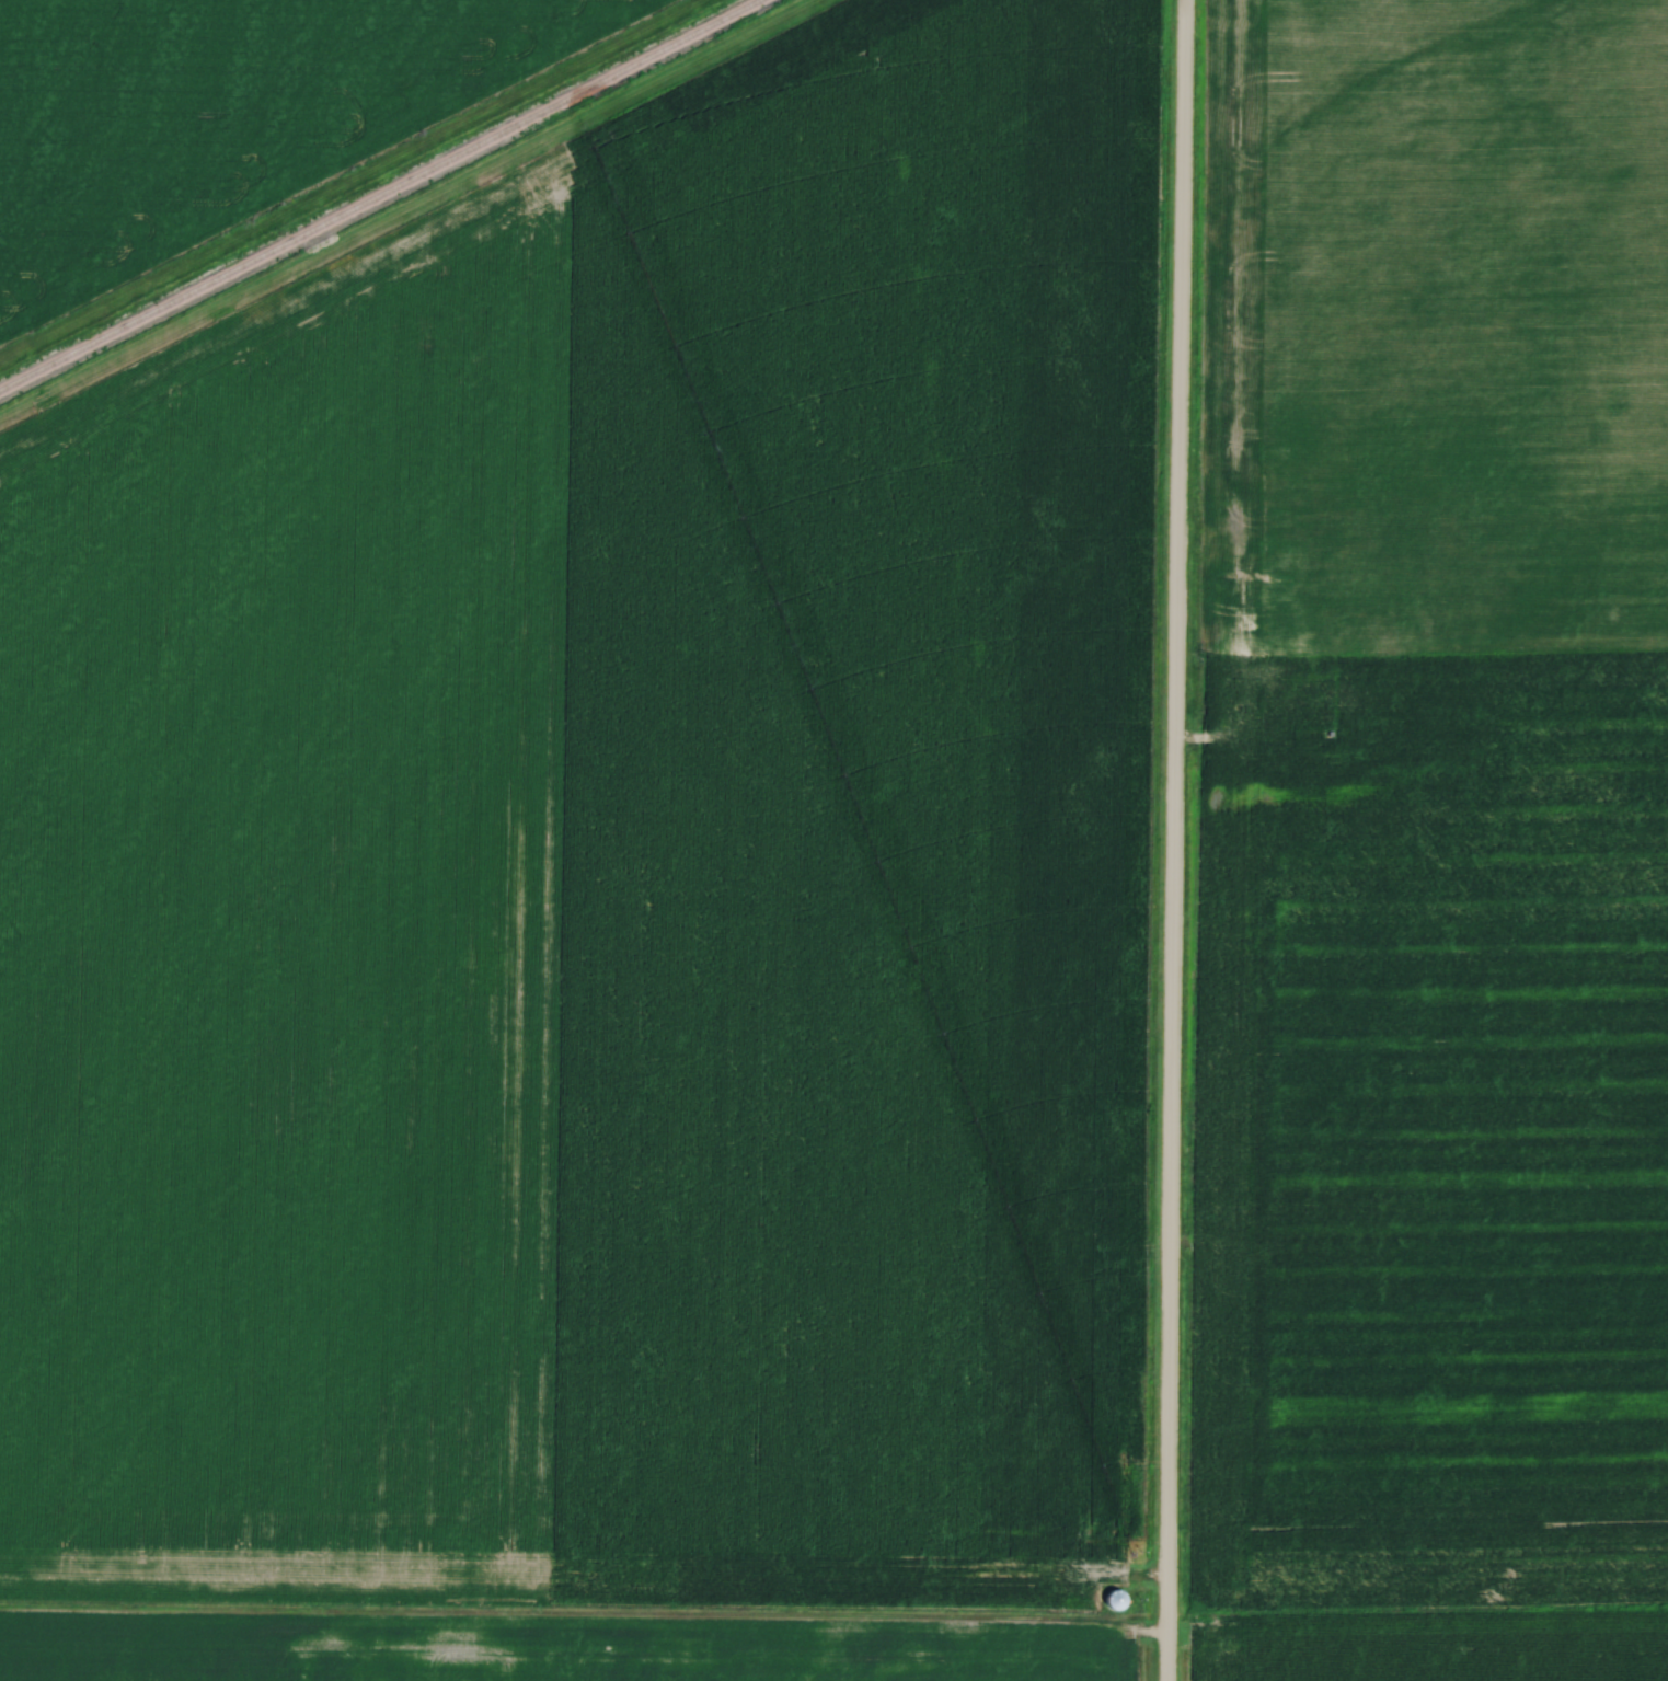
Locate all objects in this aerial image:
railway: (369, 189)
road: (1178, 840)

